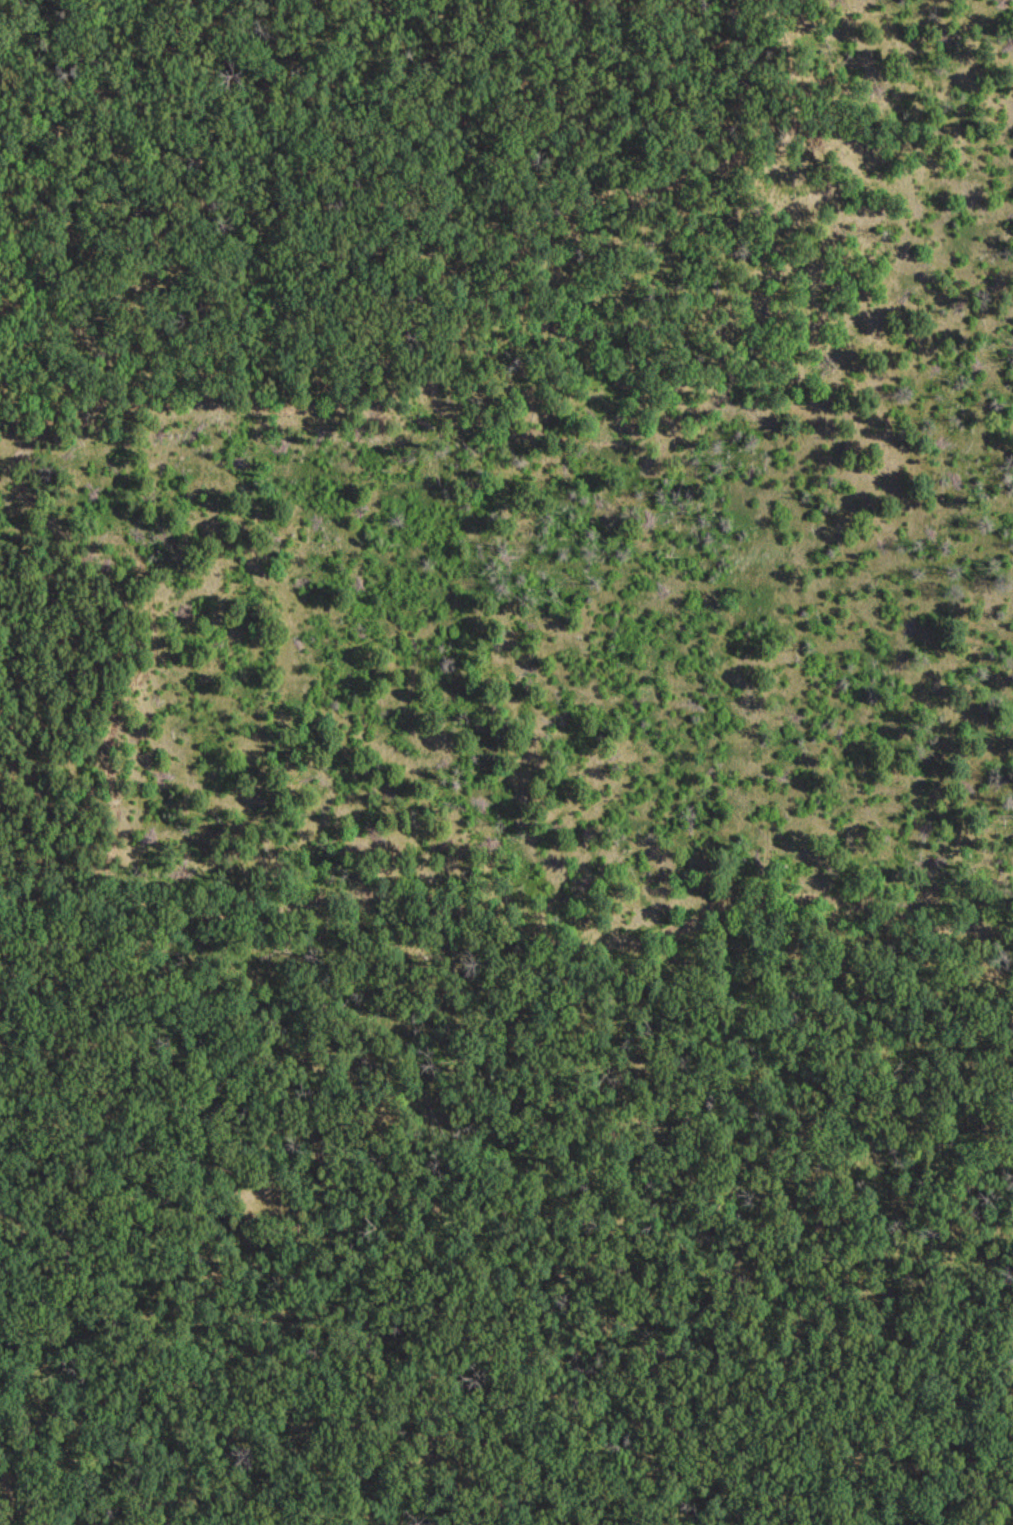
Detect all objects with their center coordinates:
road: (139, 1289)

